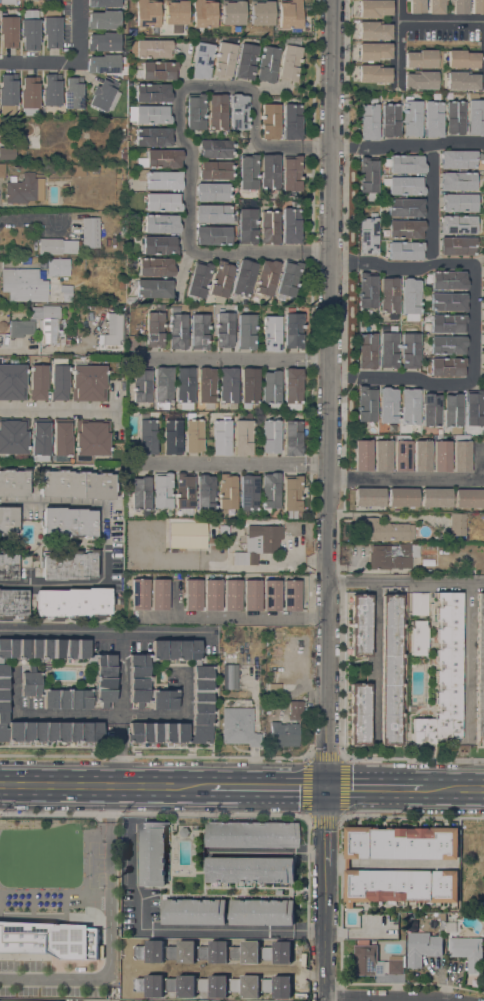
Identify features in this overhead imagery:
building: (7, 2)
building: (51, 2)
building: (103, 3)
building: (416, 6)
building: (436, 6)
building: (458, 6)
building: (477, 6)
building: (374, 8)
building: (175, 12)
building: (232, 12)
building: (261, 12)
building: (147, 13)
building: (289, 14)
building: (203, 15)
building: (103, 19)
building: (304, 21)
road: (441, 21)
building: (51, 28)
building: (29, 30)
building: (374, 30)
building: (8, 32)
building: (103, 41)
road: (397, 44)
building: (150, 48)
building: (372, 51)
building: (123, 52)
building: (420, 58)
building: (461, 58)
building: (202, 60)
building: (223, 60)
road: (69, 61)
building: (245, 61)
building: (289, 63)
building: (102, 64)
building: (267, 64)
building: (157, 70)
building: (373, 73)
building: (420, 80)
building: (462, 80)
road: (217, 85)
building: (51, 90)
road: (268, 90)
building: (73, 92)
building: (152, 92)
building: (7, 94)
building: (104, 94)
building: (30, 97)
building: (217, 111)
building: (238, 111)
building: (195, 112)
building: (150, 114)
building: (411, 116)
building: (455, 116)
road: (253, 117)
building: (475, 117)
building: (433, 119)
building: (390, 120)
building: (291, 121)
building: (368, 121)
building: (270, 122)
building: (153, 136)
road: (423, 144)
road: (317, 146)
road: (347, 146)
road: (280, 147)
building: (215, 148)
building: (7, 153)
building: (160, 158)
building: (459, 159)
building: (405, 163)
road: (192, 167)
building: (51, 169)
building: (2, 170)
building: (79, 170)
building: (94, 170)
building: (214, 170)
building: (248, 172)
building: (269, 172)
building: (291, 173)
building: (368, 174)
building: (163, 180)
building: (457, 181)
building: (404, 185)
building: (23, 189)
building: (212, 191)
building: (163, 202)
building: (458, 202)
road: (435, 204)
building: (405, 207)
building: (213, 214)
building: (247, 220)
building: (161, 224)
building: (457, 224)
building: (290, 225)
building: (269, 227)
building: (406, 228)
building: (90, 232)
building: (212, 235)
building: (367, 235)
building: (159, 245)
building: (56, 246)
building: (457, 246)
building: (405, 250)
road: (248, 251)
road: (318, 251)
road: (344, 262)
building: (57, 267)
building: (155, 267)
road: (416, 268)
building: (244, 277)
building: (266, 277)
building: (288, 279)
building: (221, 280)
building: (448, 280)
building: (198, 281)
building: (23, 284)
building: (152, 288)
building: (367, 290)
building: (66, 292)
building: (389, 295)
building: (410, 296)
building: (483, 297)
building: (130, 300)
building: (447, 302)
building: (483, 315)
building: (447, 323)
building: (49, 324)
road: (475, 324)
building: (177, 327)
building: (21, 328)
building: (154, 329)
building: (224, 329)
building: (293, 330)
building: (199, 331)
building: (246, 331)
building: (113, 332)
building: (271, 333)
building: (483, 338)
building: (68, 341)
building: (445, 345)
building: (388, 346)
building: (366, 350)
building: (409, 350)
road: (17, 352)
road: (233, 357)
building: (483, 360)
building: (447, 366)
road: (343, 377)
building: (58, 379)
road: (416, 379)
building: (12, 382)
building: (37, 382)
building: (88, 382)
building: (141, 384)
building: (227, 386)
building: (249, 386)
building: (271, 386)
building: (163, 387)
building: (184, 387)
building: (206, 387)
building: (292, 389)
road: (329, 393)
building: (366, 403)
building: (388, 406)
building: (409, 406)
building: (474, 409)
building: (431, 410)
road: (51, 412)
building: (452, 412)
building: (193, 434)
building: (147, 435)
building: (172, 436)
building: (270, 436)
building: (221, 437)
building: (242, 437)
building: (292, 437)
building: (13, 438)
building: (91, 438)
building: (39, 439)
building: (61, 439)
building: (362, 455)
building: (382, 455)
building: (401, 455)
building: (461, 455)
building: (421, 456)
building: (441, 456)
road: (231, 465)
road: (422, 479)
building: (13, 482)
building: (76, 484)
building: (162, 490)
building: (227, 491)
building: (270, 491)
building: (140, 492)
building: (205, 492)
building: (292, 492)
building: (183, 493)
building: (248, 494)
building: (369, 497)
building: (402, 497)
building: (435, 497)
building: (469, 498)
building: (7, 521)
building: (68, 522)
building: (457, 524)
building: (384, 530)
building: (223, 531)
building: (187, 533)
building: (435, 537)
road: (104, 542)
building: (258, 543)
building: (210, 556)
building: (391, 556)
building: (68, 565)
building: (7, 566)
road: (405, 581)
building: (139, 593)
building: (159, 594)
building: (192, 594)
building: (212, 594)
building: (231, 595)
building: (251, 595)
building: (271, 595)
building: (291, 595)
building: (72, 602)
building: (12, 603)
building: (418, 603)
road: (231, 617)
building: (360, 624)
road: (104, 634)
road: (175, 634)
building: (417, 637)
road: (467, 662)
road: (374, 663)
building: (480, 667)
building: (390, 670)
building: (444, 674)
building: (230, 676)
building: (56, 686)
building: (274, 689)
building: (169, 693)
building: (411, 708)
building: (295, 709)
building: (359, 714)
road: (98, 716)
building: (238, 726)
building: (283, 734)
road: (120, 755)
road: (341, 757)
road: (105, 787)
road: (269, 787)
traffic signals: (326, 787)
road: (380, 787)
road: (459, 787)
building: (250, 834)
building: (152, 854)
building: (103, 861)
building: (346, 864)
building: (22, 865)
building: (250, 870)
building: (279, 891)
road: (325, 894)
building: (262, 906)
building: (451, 915)
building: (442, 921)
building: (96, 929)
road: (178, 929)
building: (48, 939)
building: (421, 947)
building: (468, 951)
building: (376, 962)
building: (270, 963)
road: (83, 976)
road: (387, 999)
building: (20, 1000)

